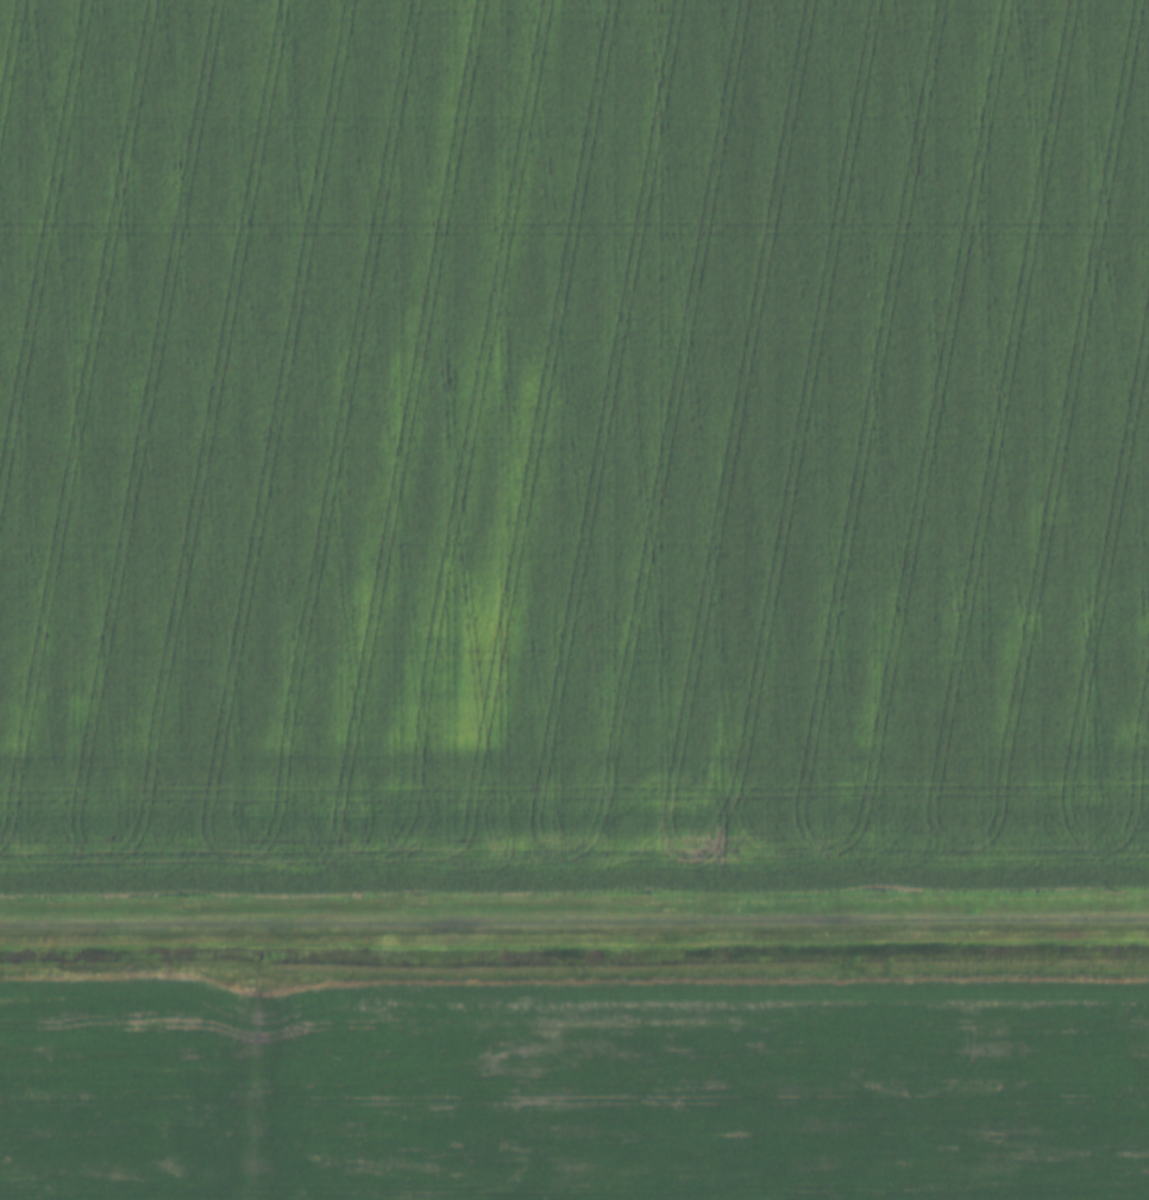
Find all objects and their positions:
crop: (573, 444)
road: (574, 919)
crop: (574, 1086)

